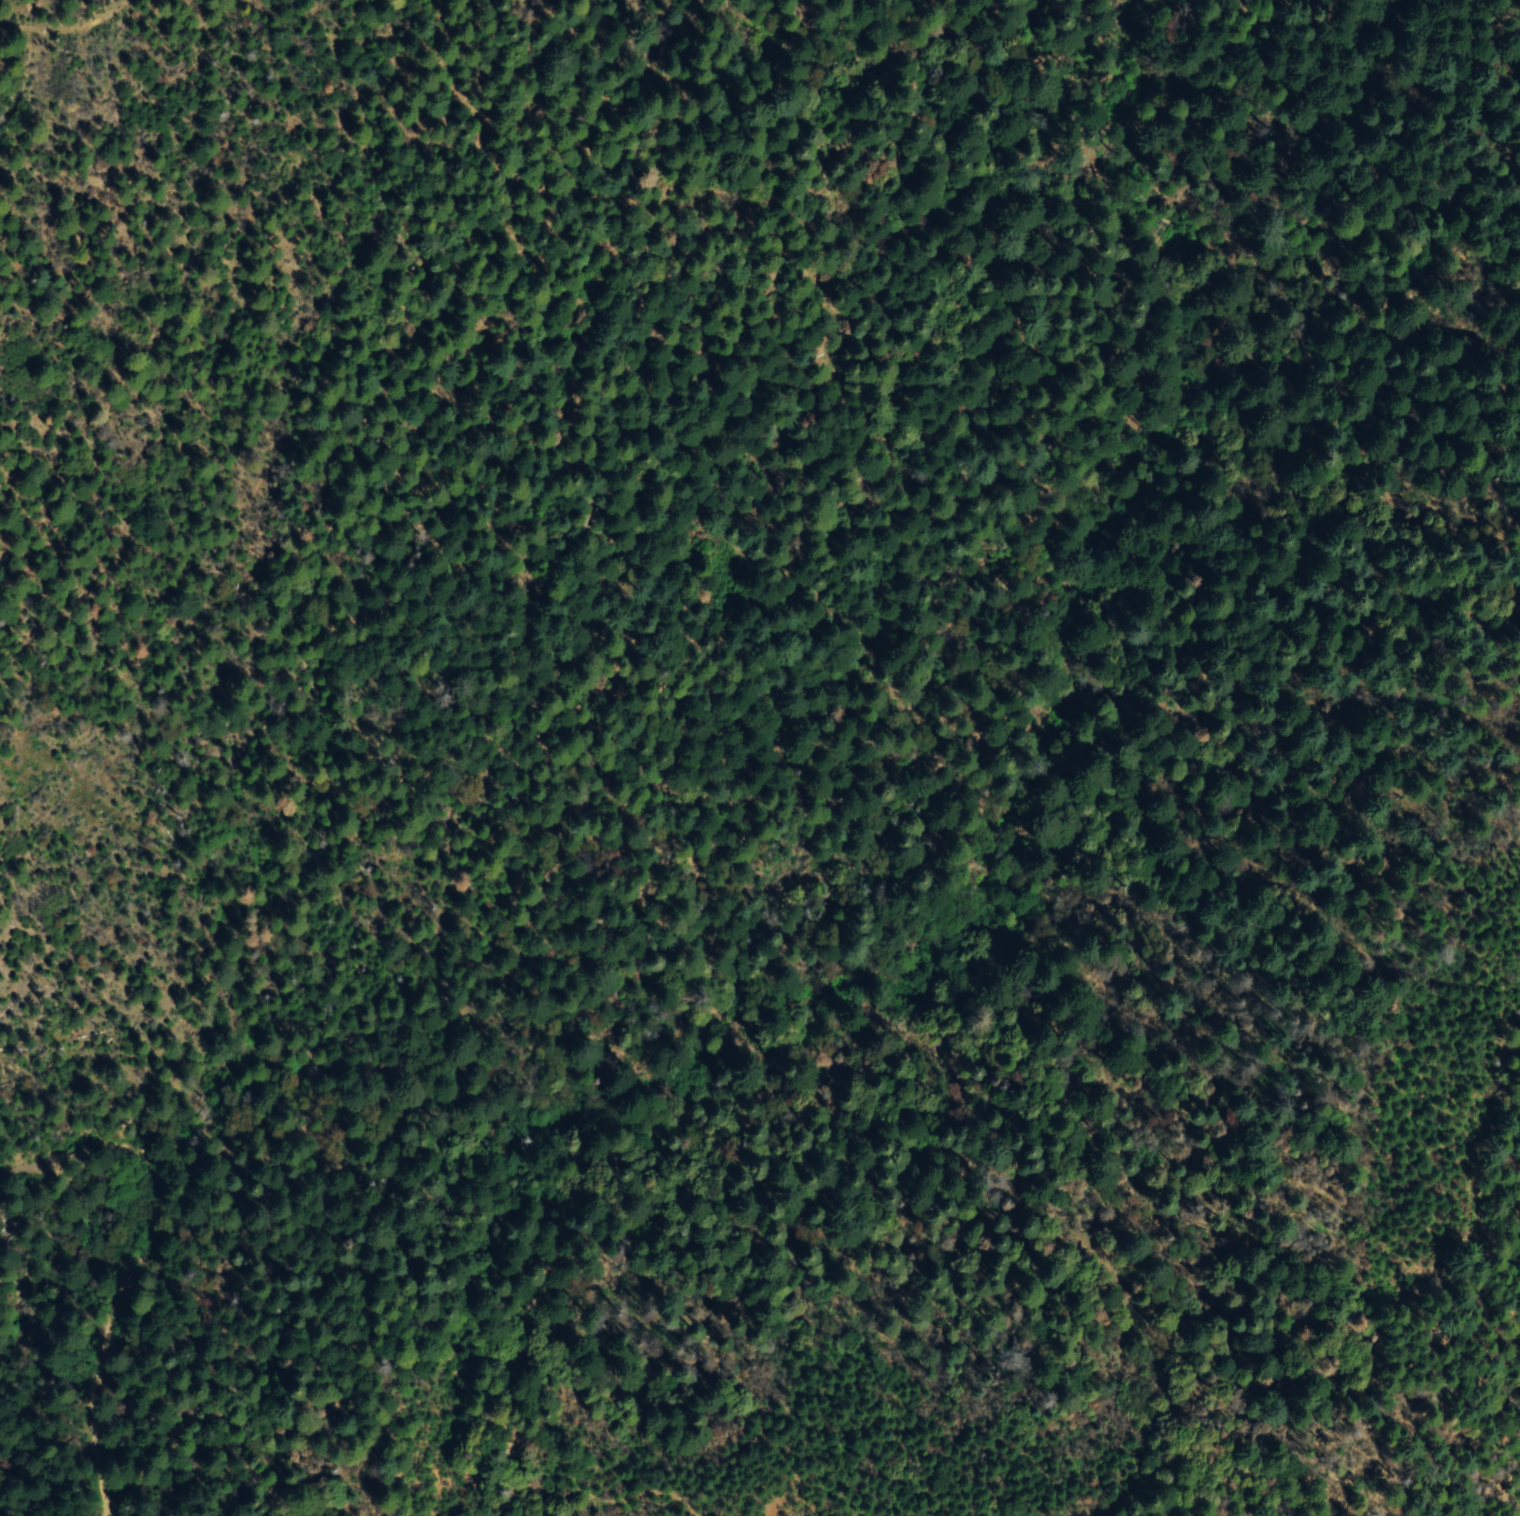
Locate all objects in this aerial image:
road: (724, 17)
road: (59, 21)
road: (102, 1099)
road: (160, 1307)

